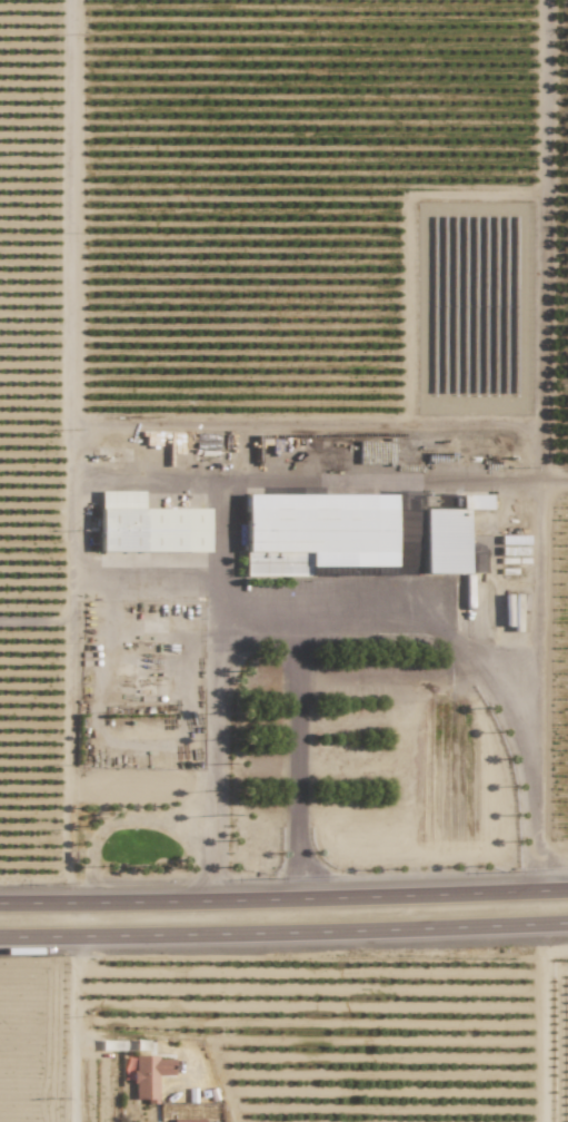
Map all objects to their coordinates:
road: (53, 451)
road: (399, 474)
road: (80, 520)
building: (147, 525)
building: (315, 532)
building: (448, 539)
road: (373, 614)
road: (534, 622)
road: (212, 719)
road: (117, 820)
road: (283, 899)
road: (283, 932)
road: (71, 1030)
building: (148, 1075)
building: (199, 1113)

